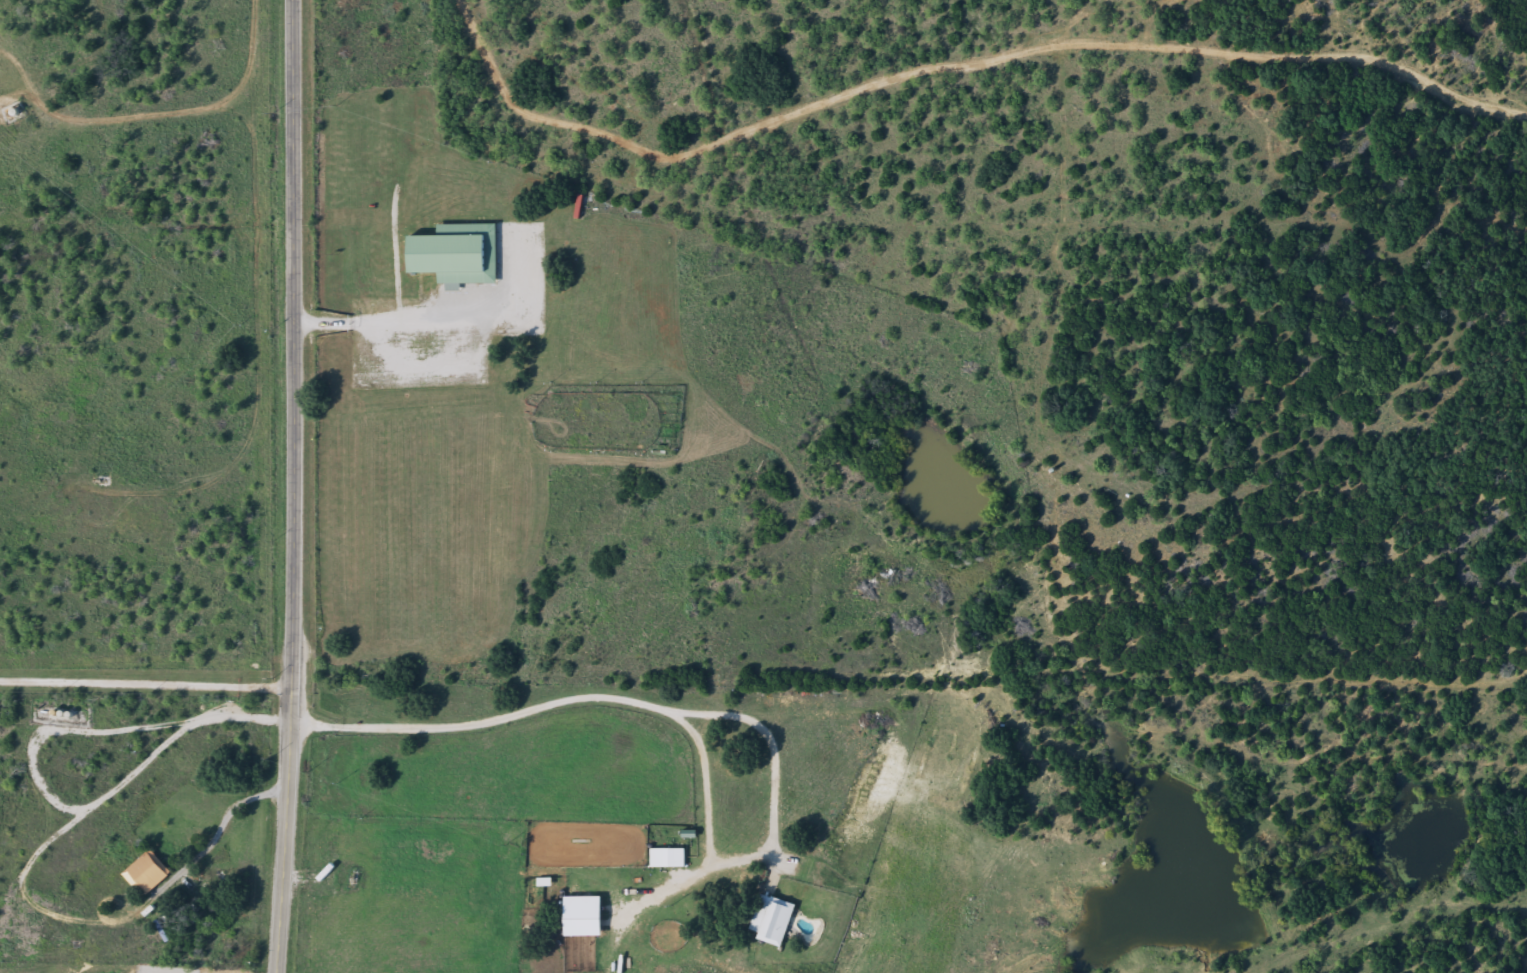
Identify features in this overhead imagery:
road: (763, 159)
building: (456, 257)
road: (291, 365)
road: (583, 704)
road: (285, 851)
road: (892, 860)
building: (667, 861)
building: (148, 874)
building: (582, 920)
building: (772, 923)

